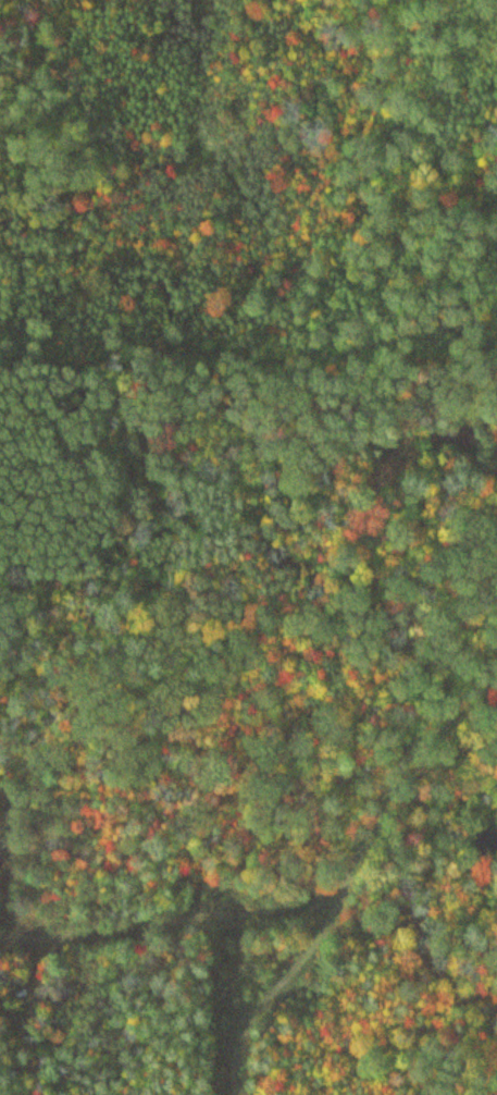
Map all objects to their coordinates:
road: (240, 1018)
road: (22, 1043)

